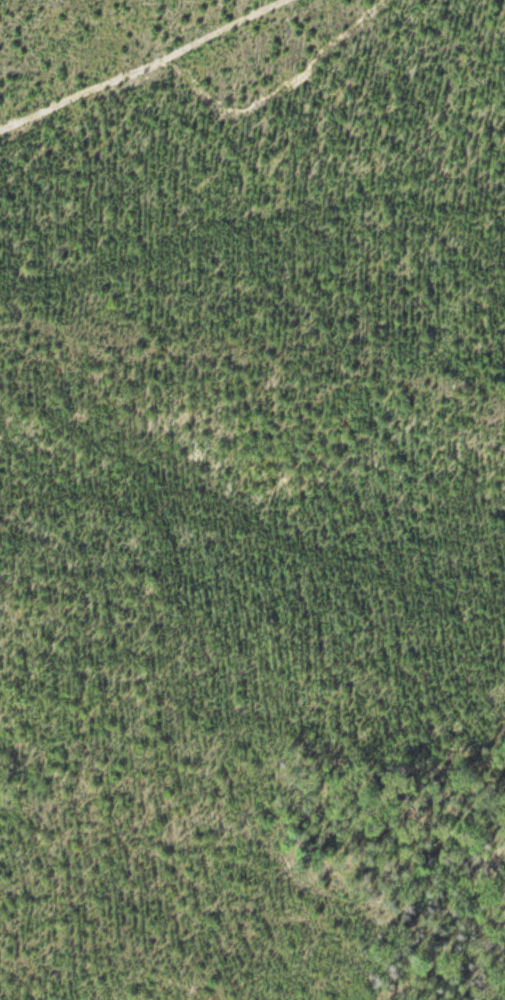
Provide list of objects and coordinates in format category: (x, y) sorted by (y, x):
road: (143, 68)

